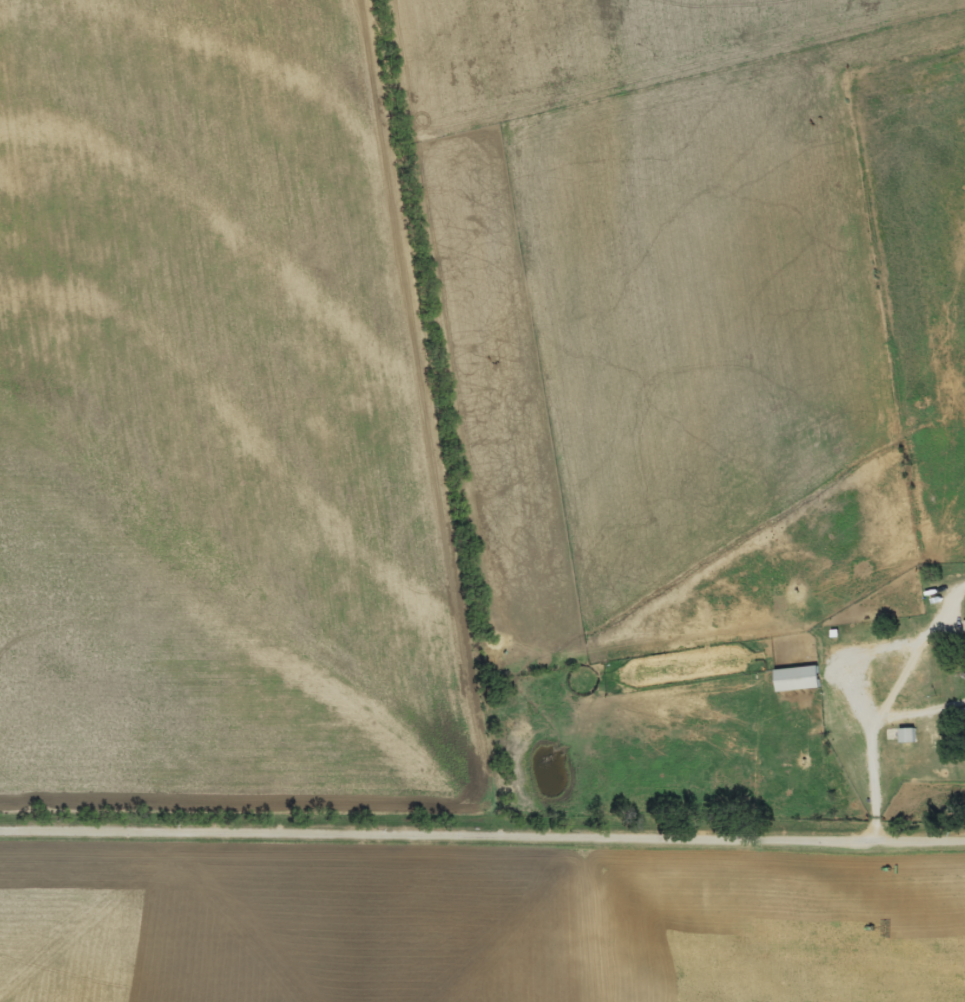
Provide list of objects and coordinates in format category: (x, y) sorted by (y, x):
building: (795, 680)
building: (905, 737)
road: (483, 827)

